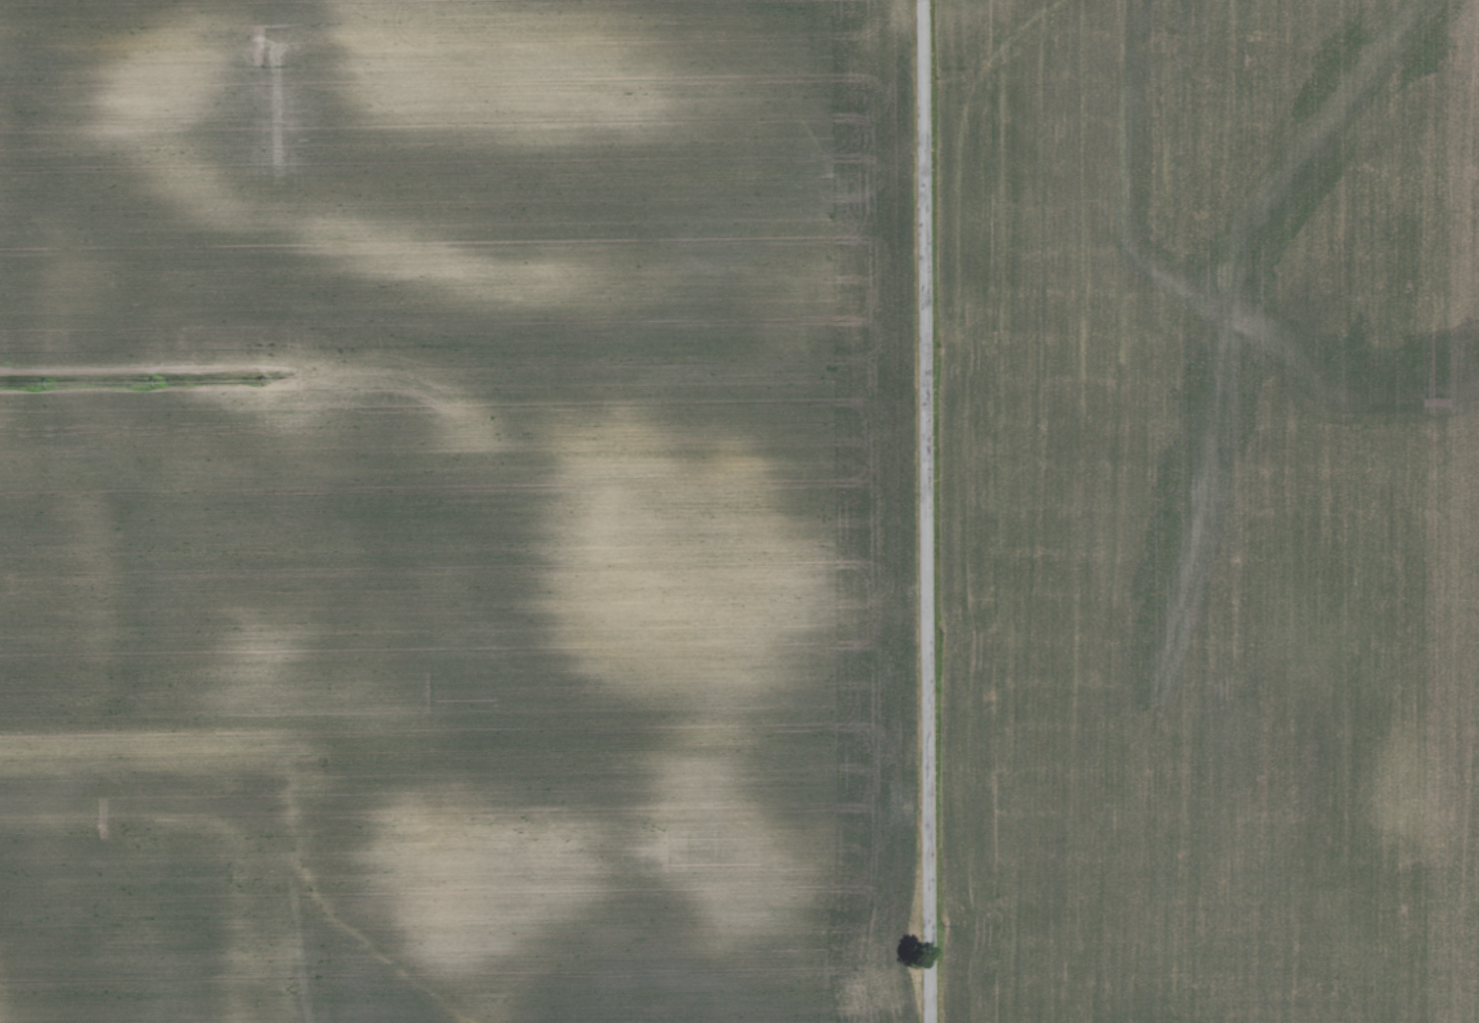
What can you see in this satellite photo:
road: (927, 511)

